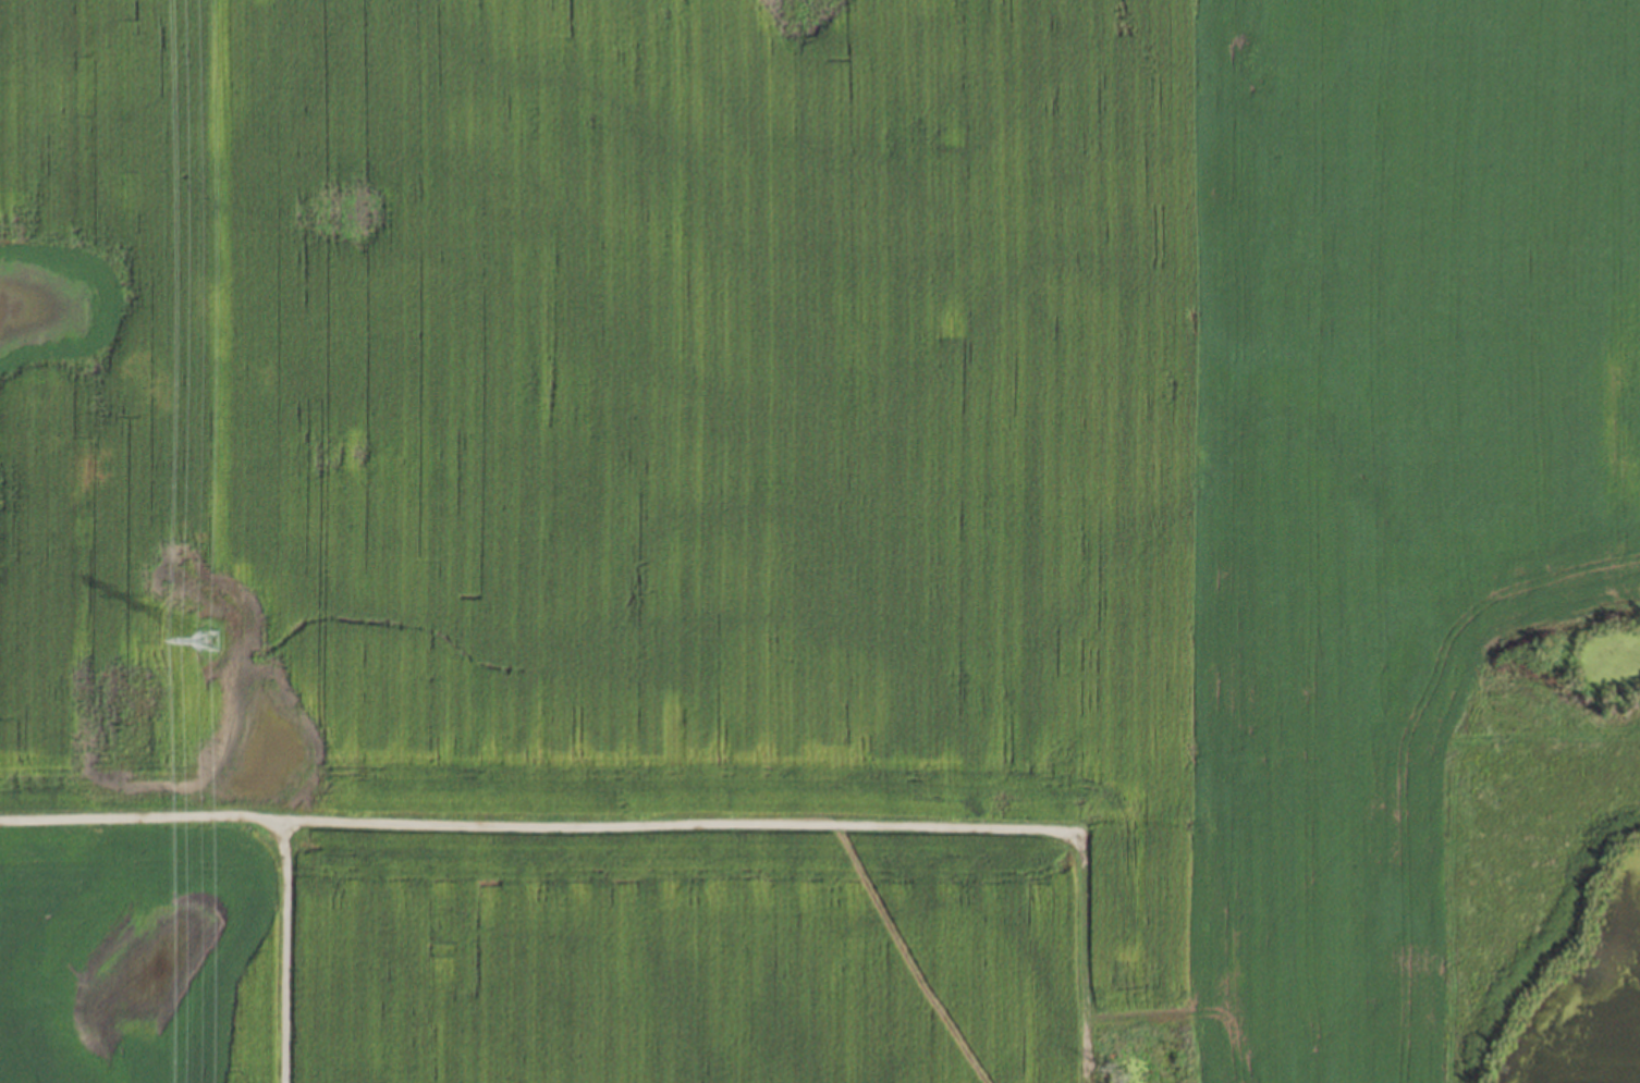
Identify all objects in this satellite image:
power tower: (205, 637)

